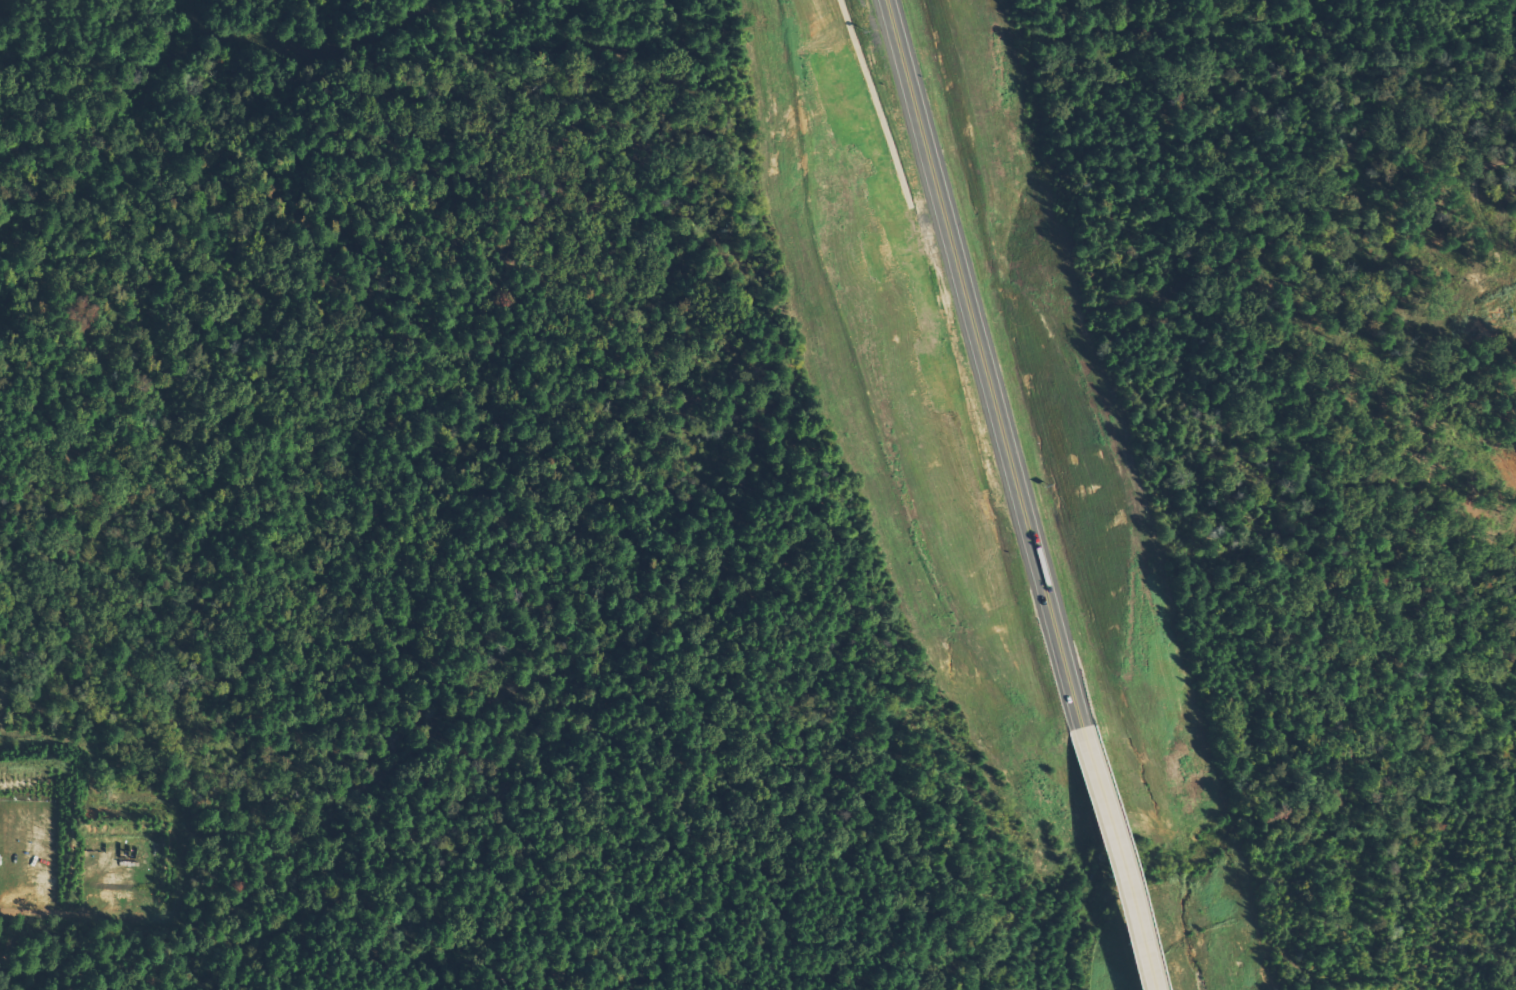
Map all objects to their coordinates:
road: (987, 366)
road: (1120, 861)

